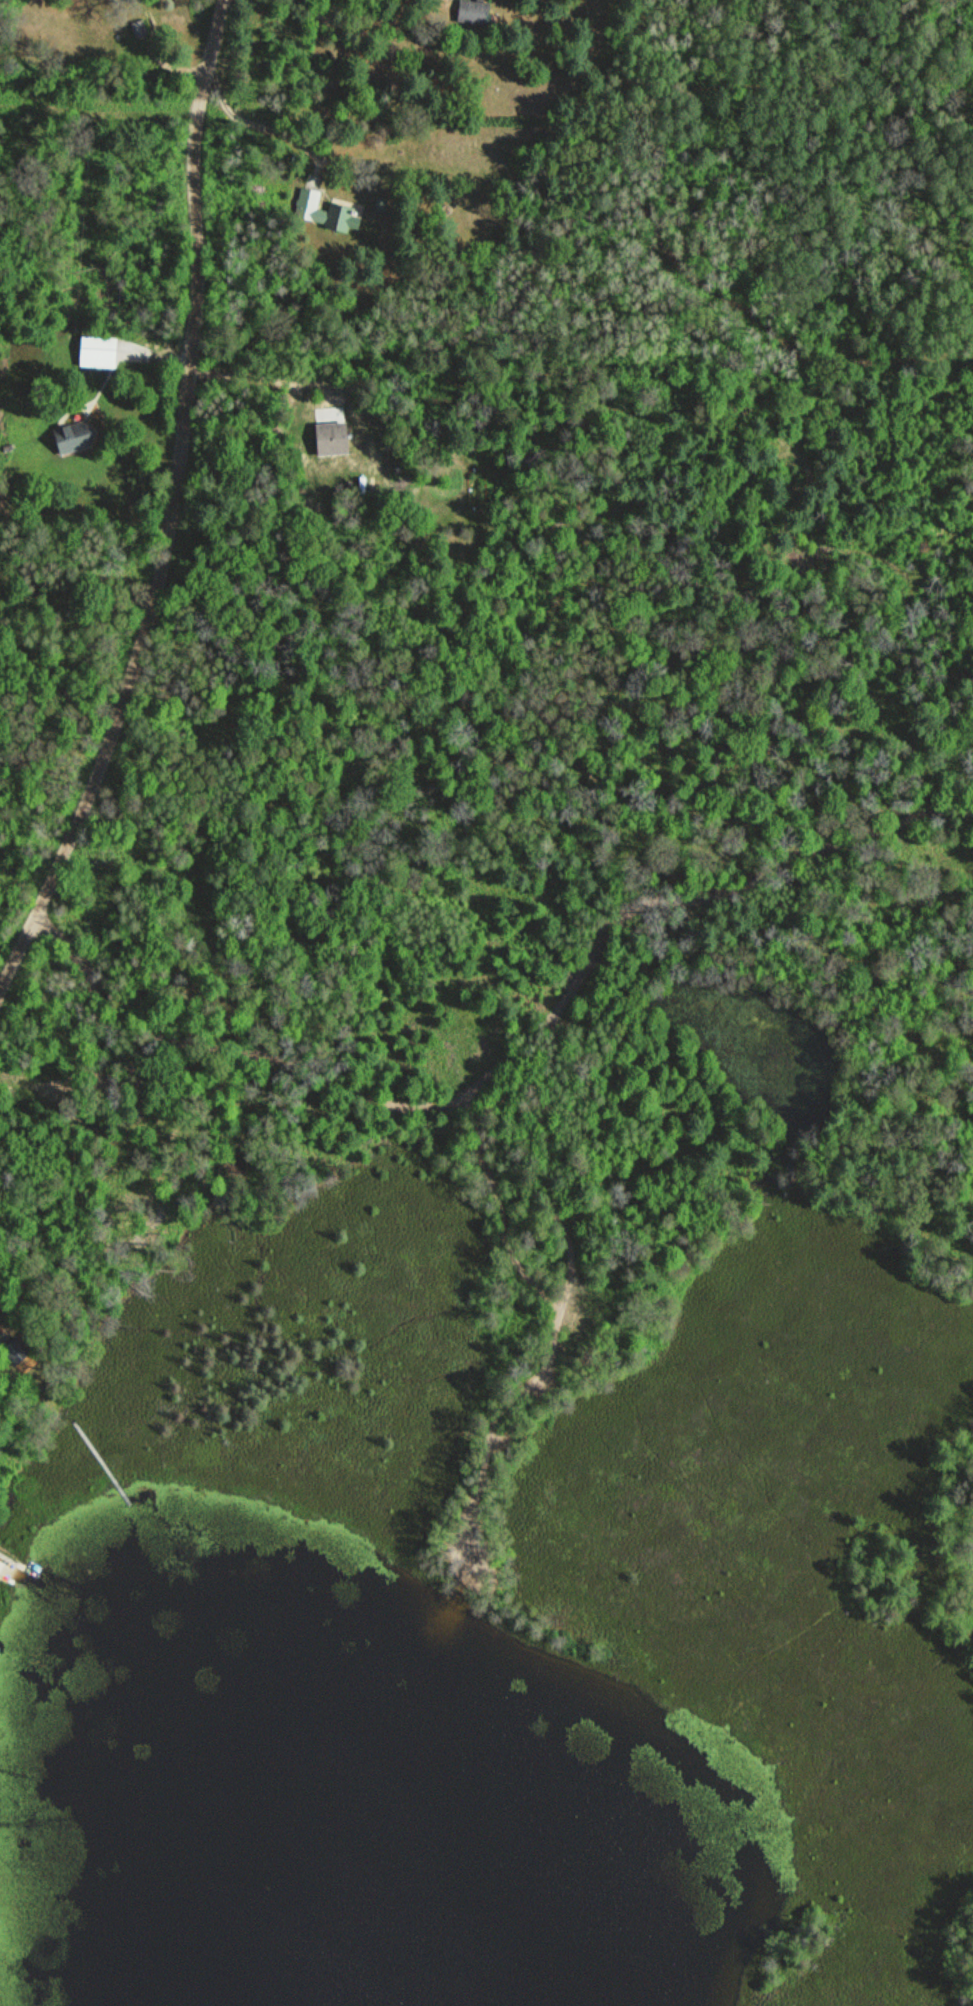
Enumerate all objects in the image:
building: (474, 12)
building: (140, 29)
building: (325, 212)
building: (99, 352)
building: (74, 436)
building: (332, 439)
road: (177, 507)
road: (509, 1058)
road: (551, 1164)
road: (553, 1339)
road: (875, 1725)

